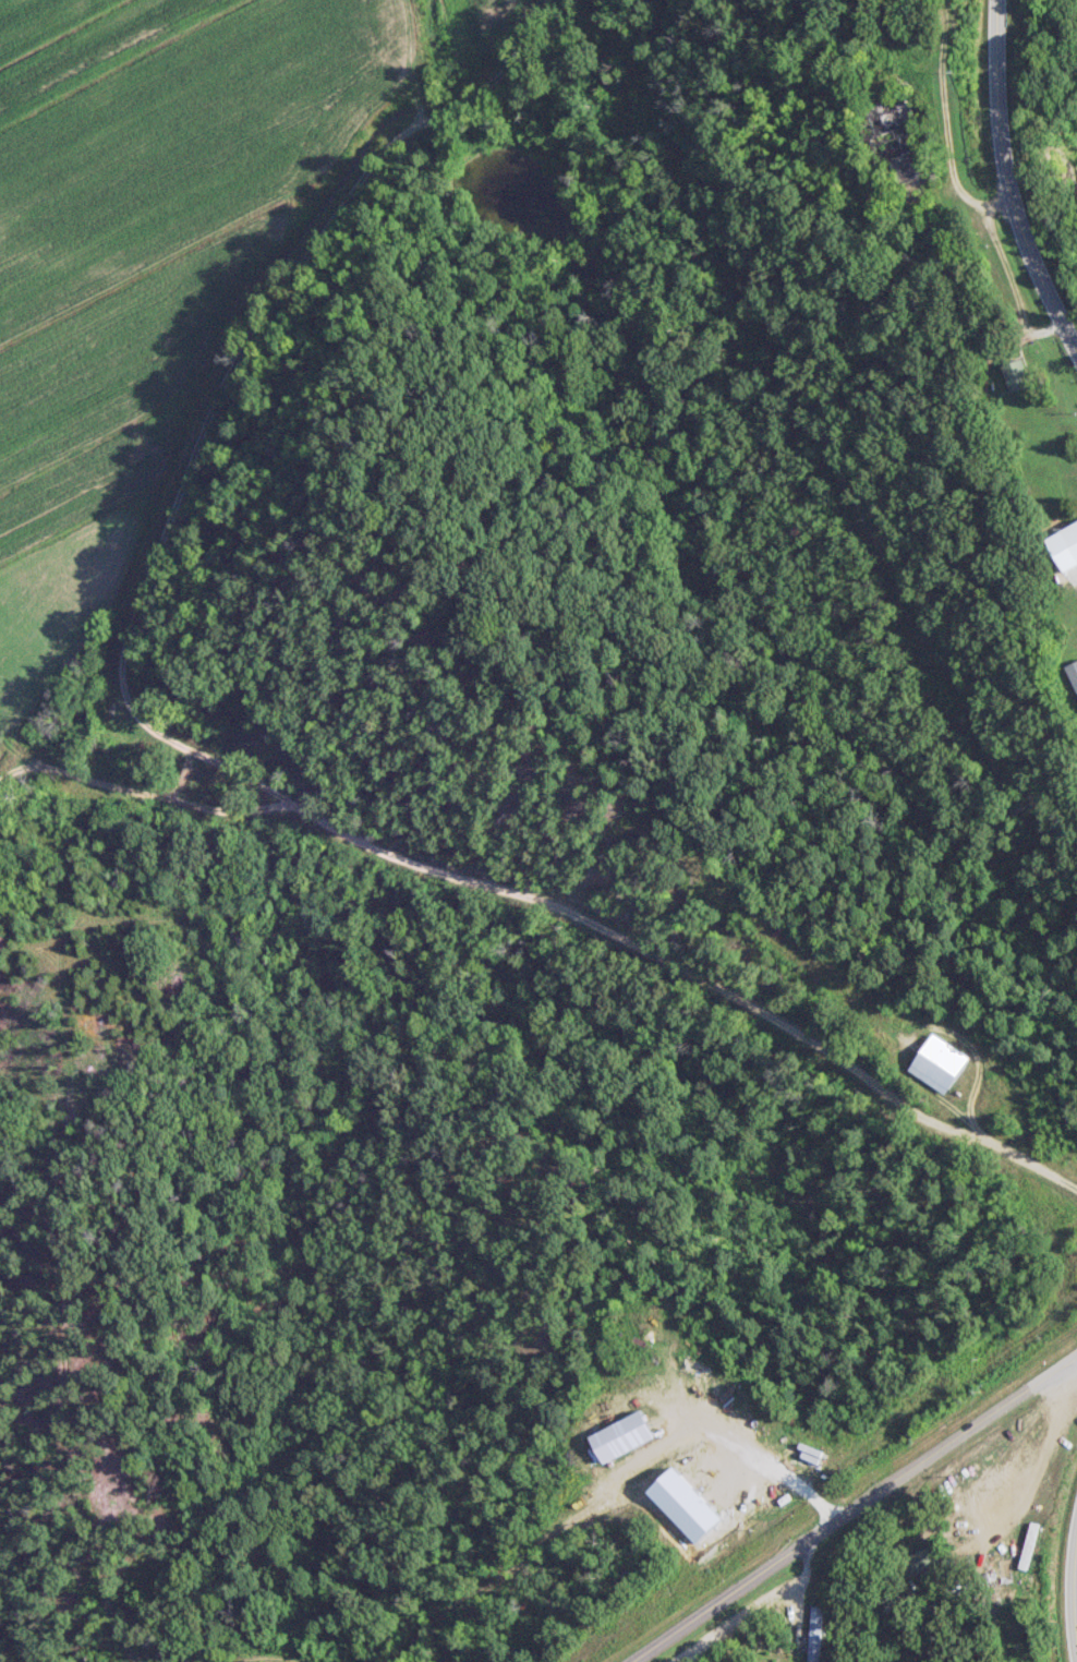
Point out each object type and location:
crop: (38, 20)
crop: (471, 45)
road: (1006, 180)
crop: (155, 276)
building: (1015, 374)
building: (1072, 535)
building: (1074, 671)
building: (239, 937)
building: (2, 941)
road: (737, 999)
building: (937, 1062)
road: (850, 1506)
building: (918, 1558)
road: (1070, 1588)
building: (813, 1633)

